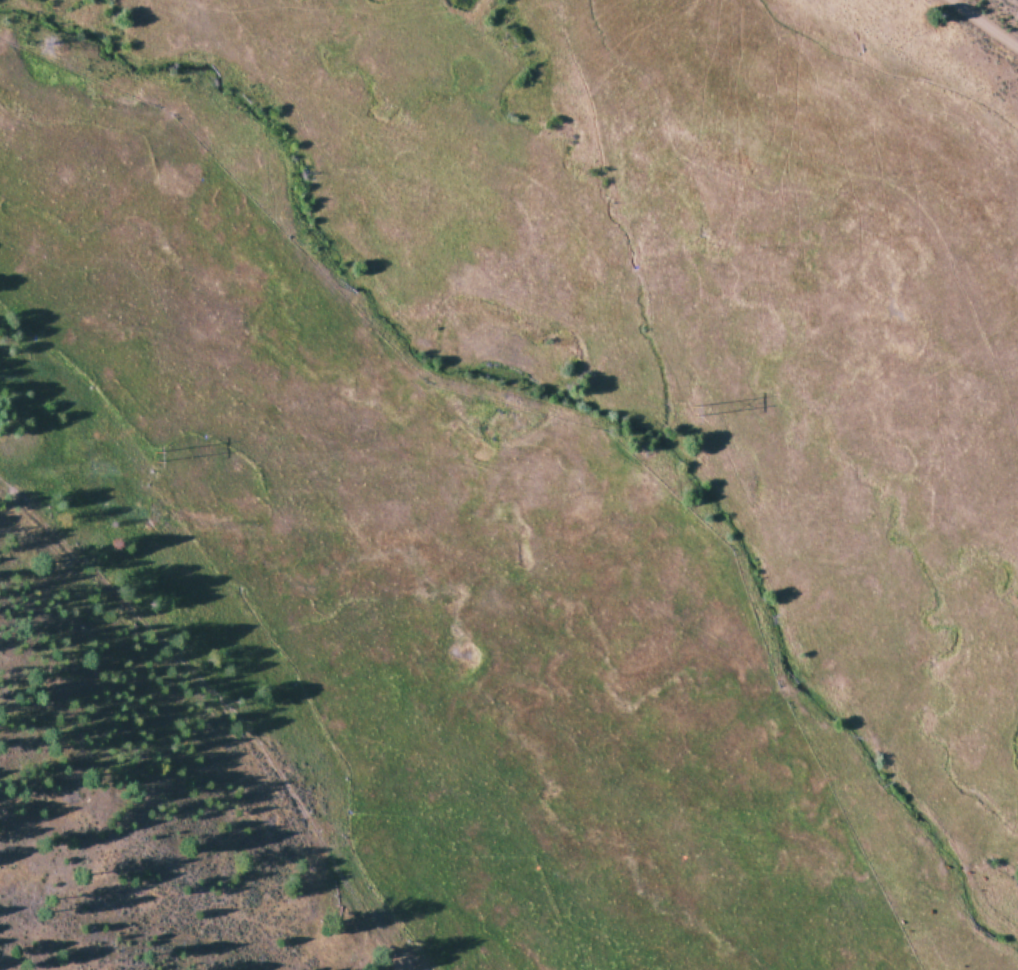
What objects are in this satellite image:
road: (1003, 9)
power tower: (690, 410)
power tower: (153, 456)

